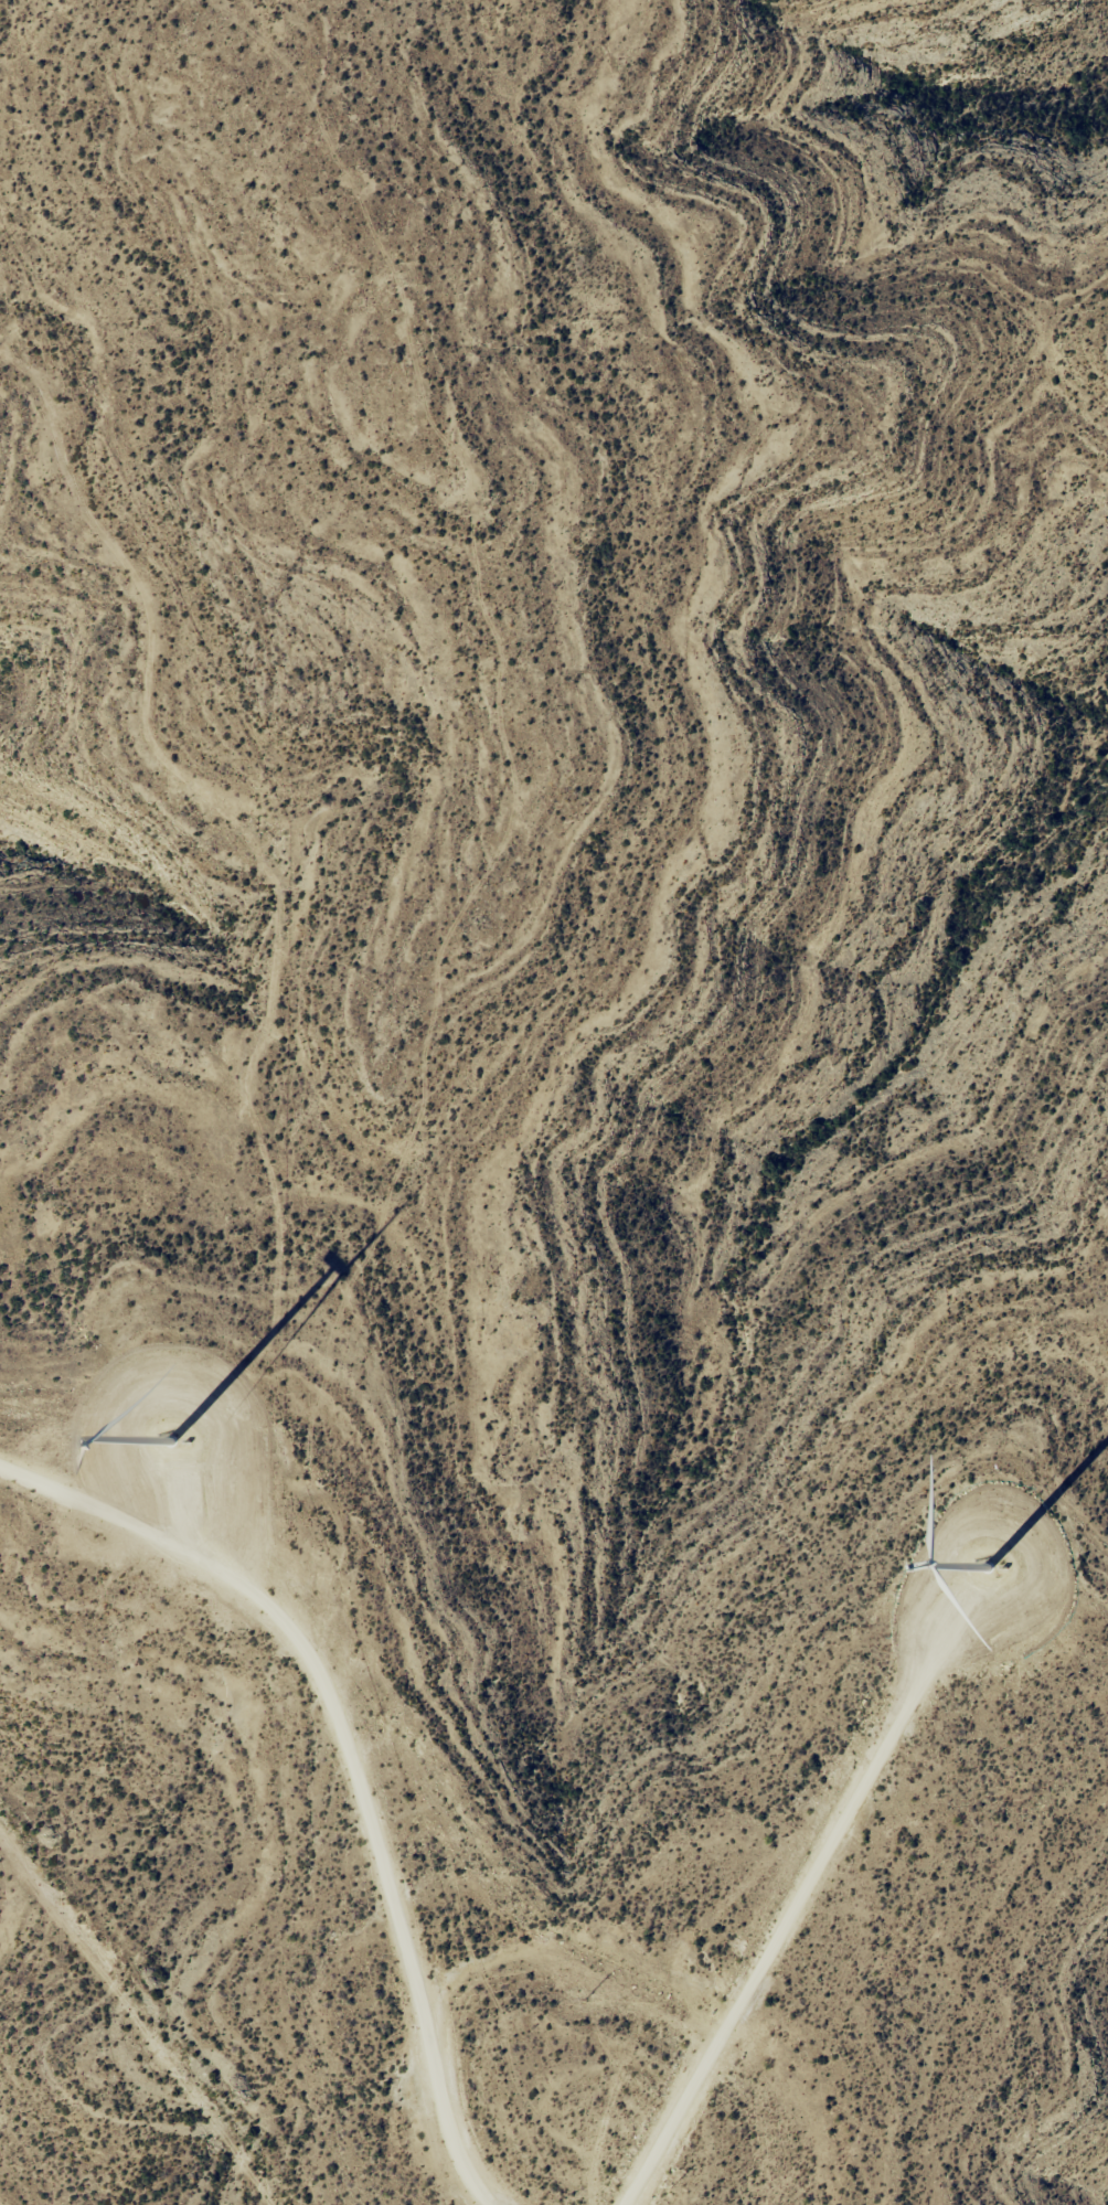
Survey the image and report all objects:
wind turbine: (169, 1441)
wind turbine: (988, 1566)

